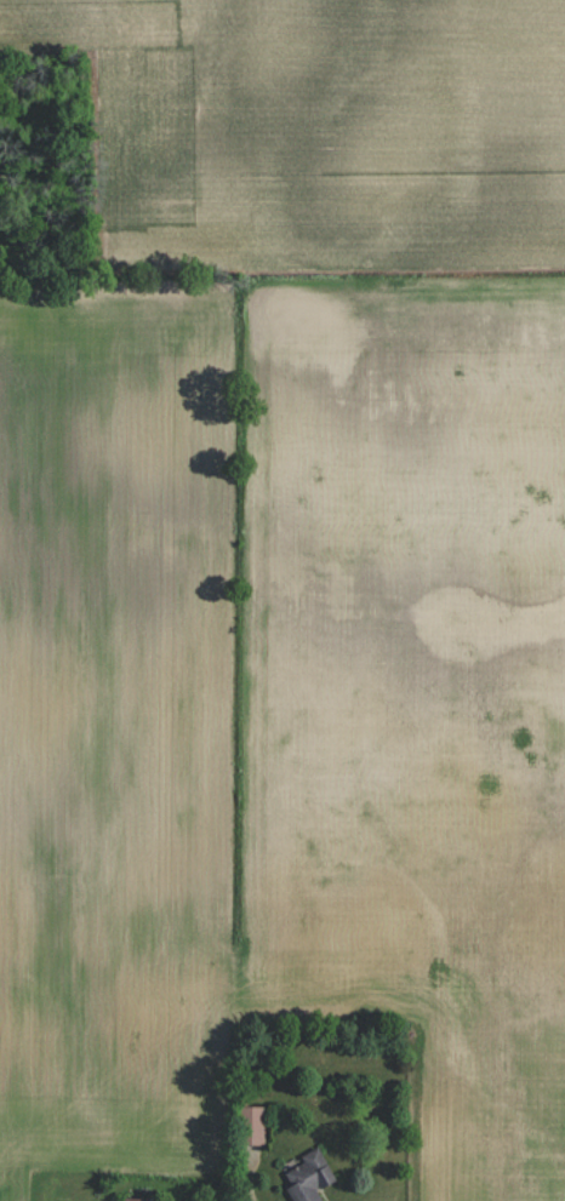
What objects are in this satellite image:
building: (256, 1123)
building: (309, 1177)
building: (138, 1199)

